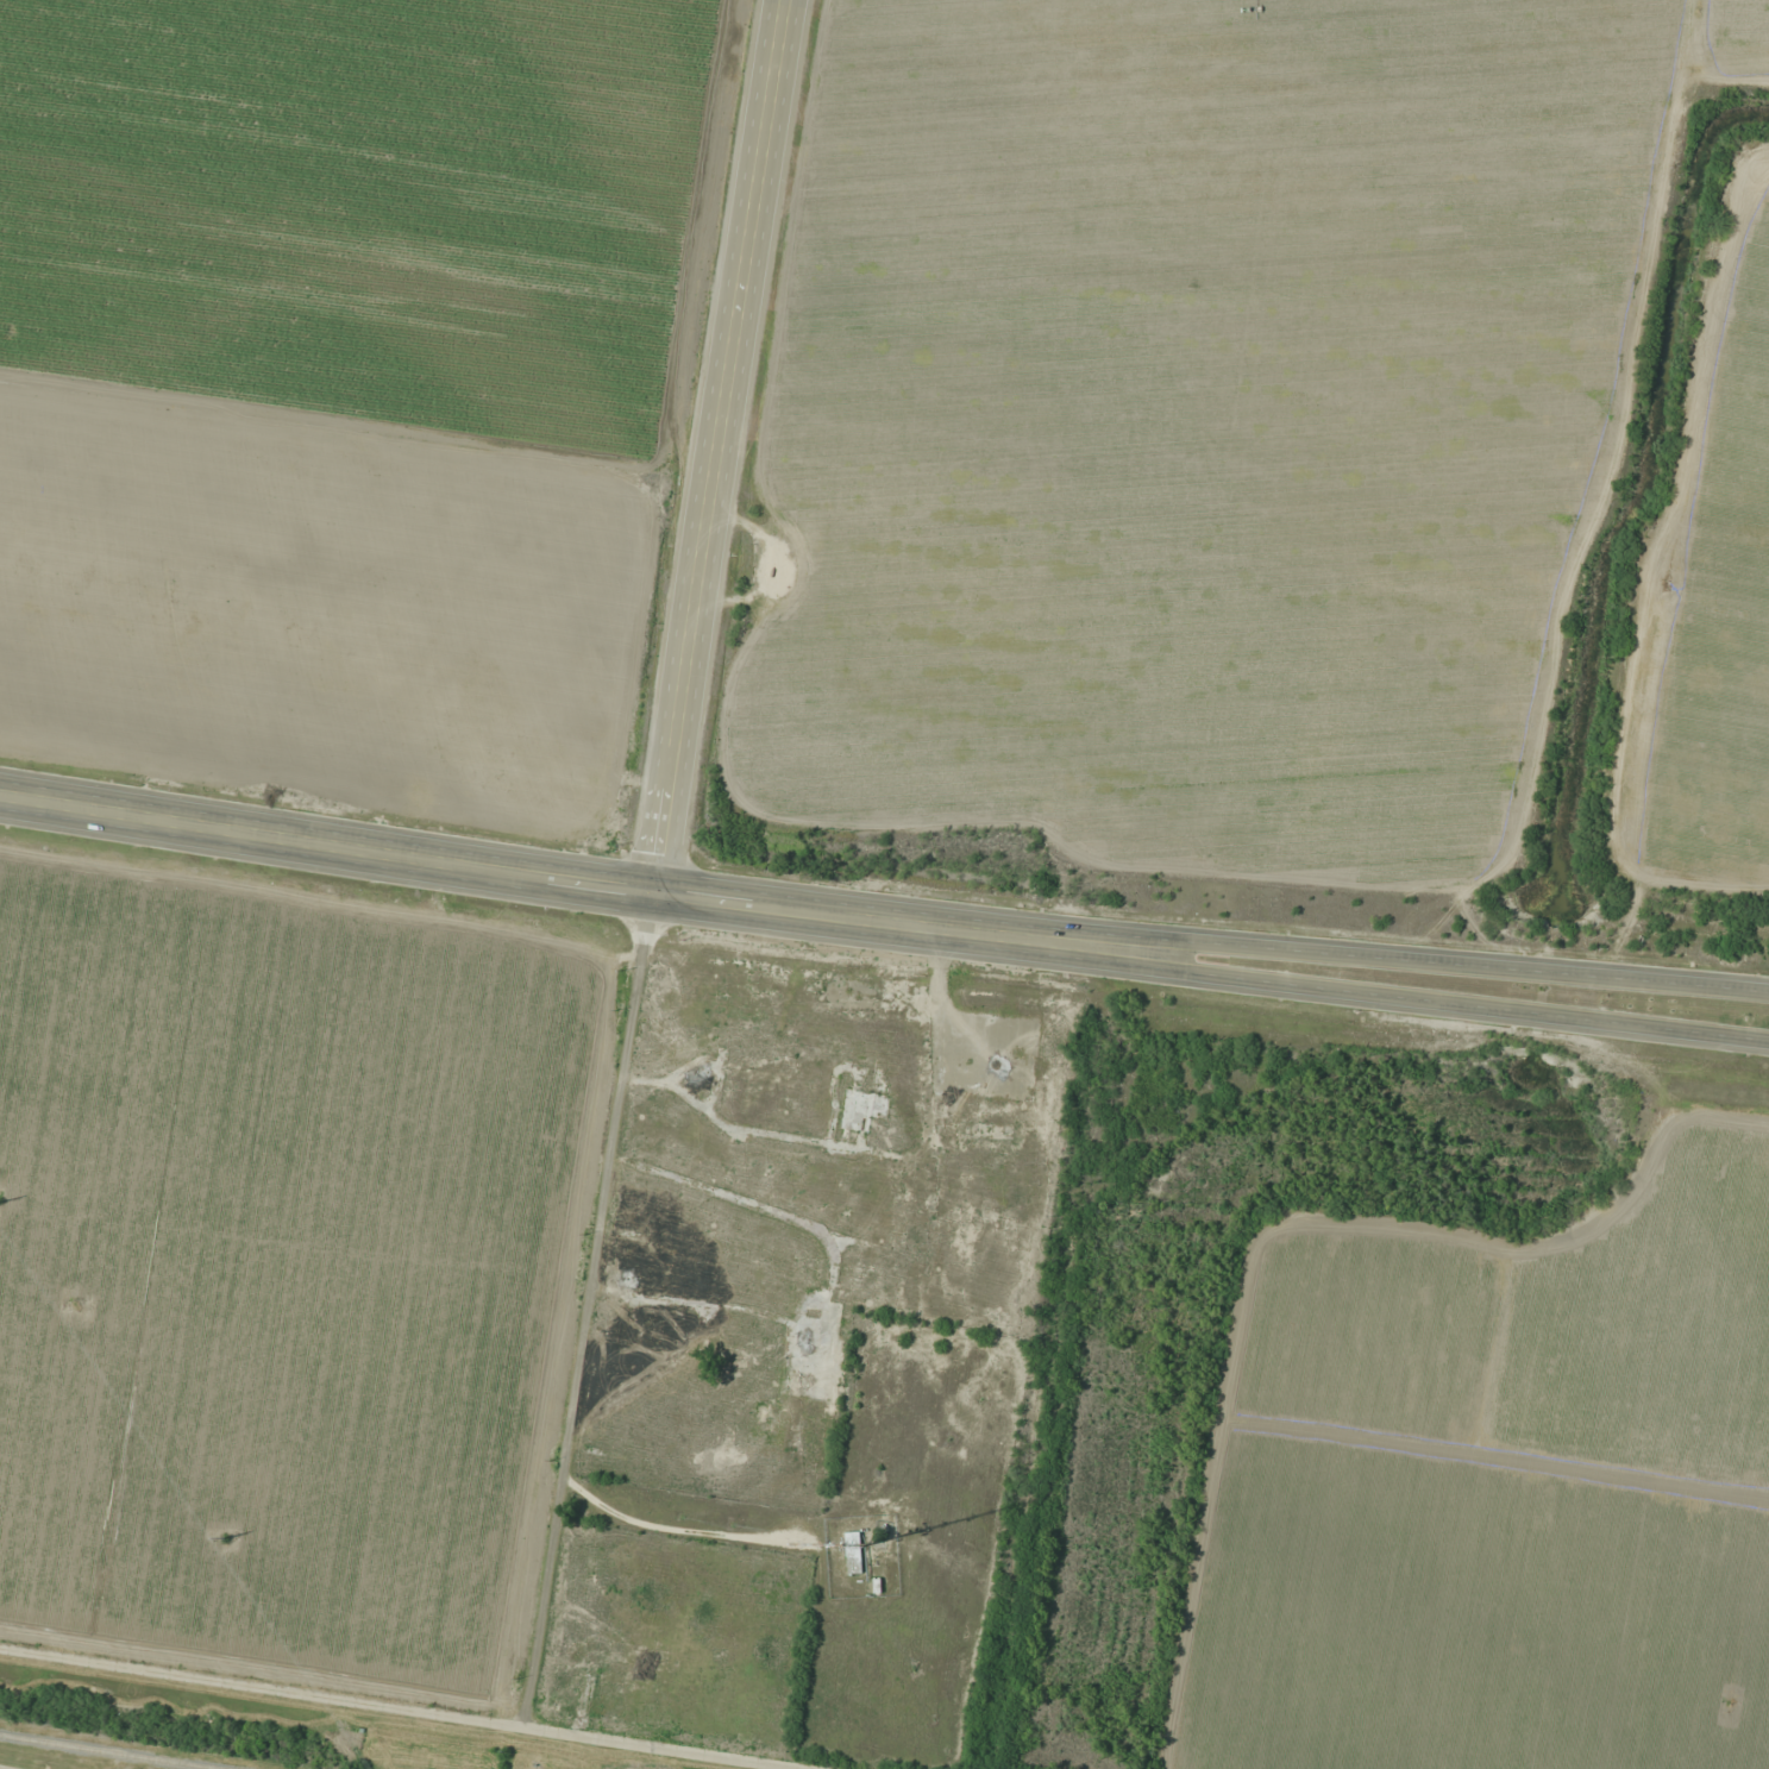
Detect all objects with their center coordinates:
road: (713, 445)
road: (457, 864)
road: (1343, 953)
road: (1149, 970)
road: (1576, 1020)
building: (862, 1110)
road: (589, 1310)
building: (853, 1552)
road: (401, 1708)
railway: (107, 1751)

